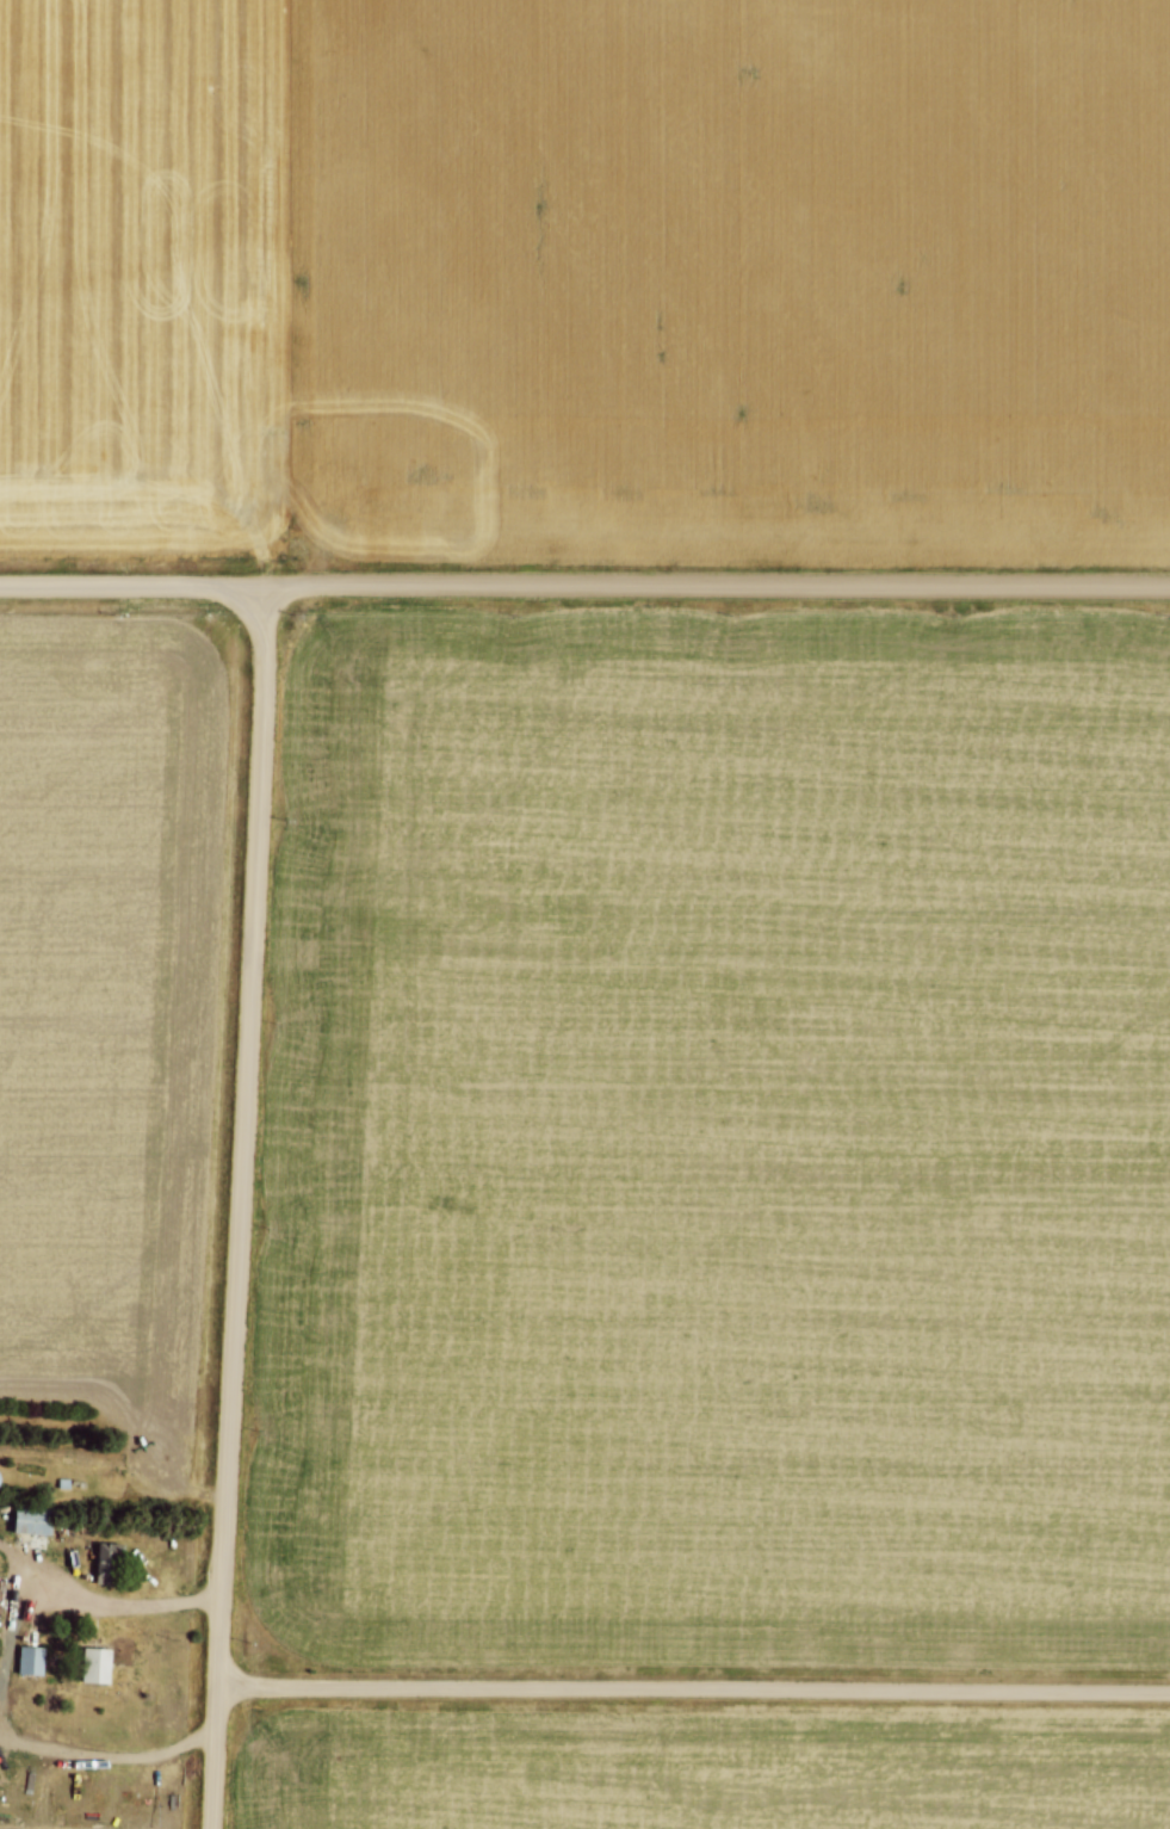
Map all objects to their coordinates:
crop: (576, 260)
road: (130, 583)
road: (716, 583)
crop: (104, 987)
crop: (717, 1138)
road: (237, 1206)
silo: (1, 1504)
building: (31, 1519)
building: (106, 1562)
road: (106, 1605)
building: (29, 1658)
building: (93, 1664)
road: (693, 1689)
crop: (693, 1772)
crop: (83, 1813)

